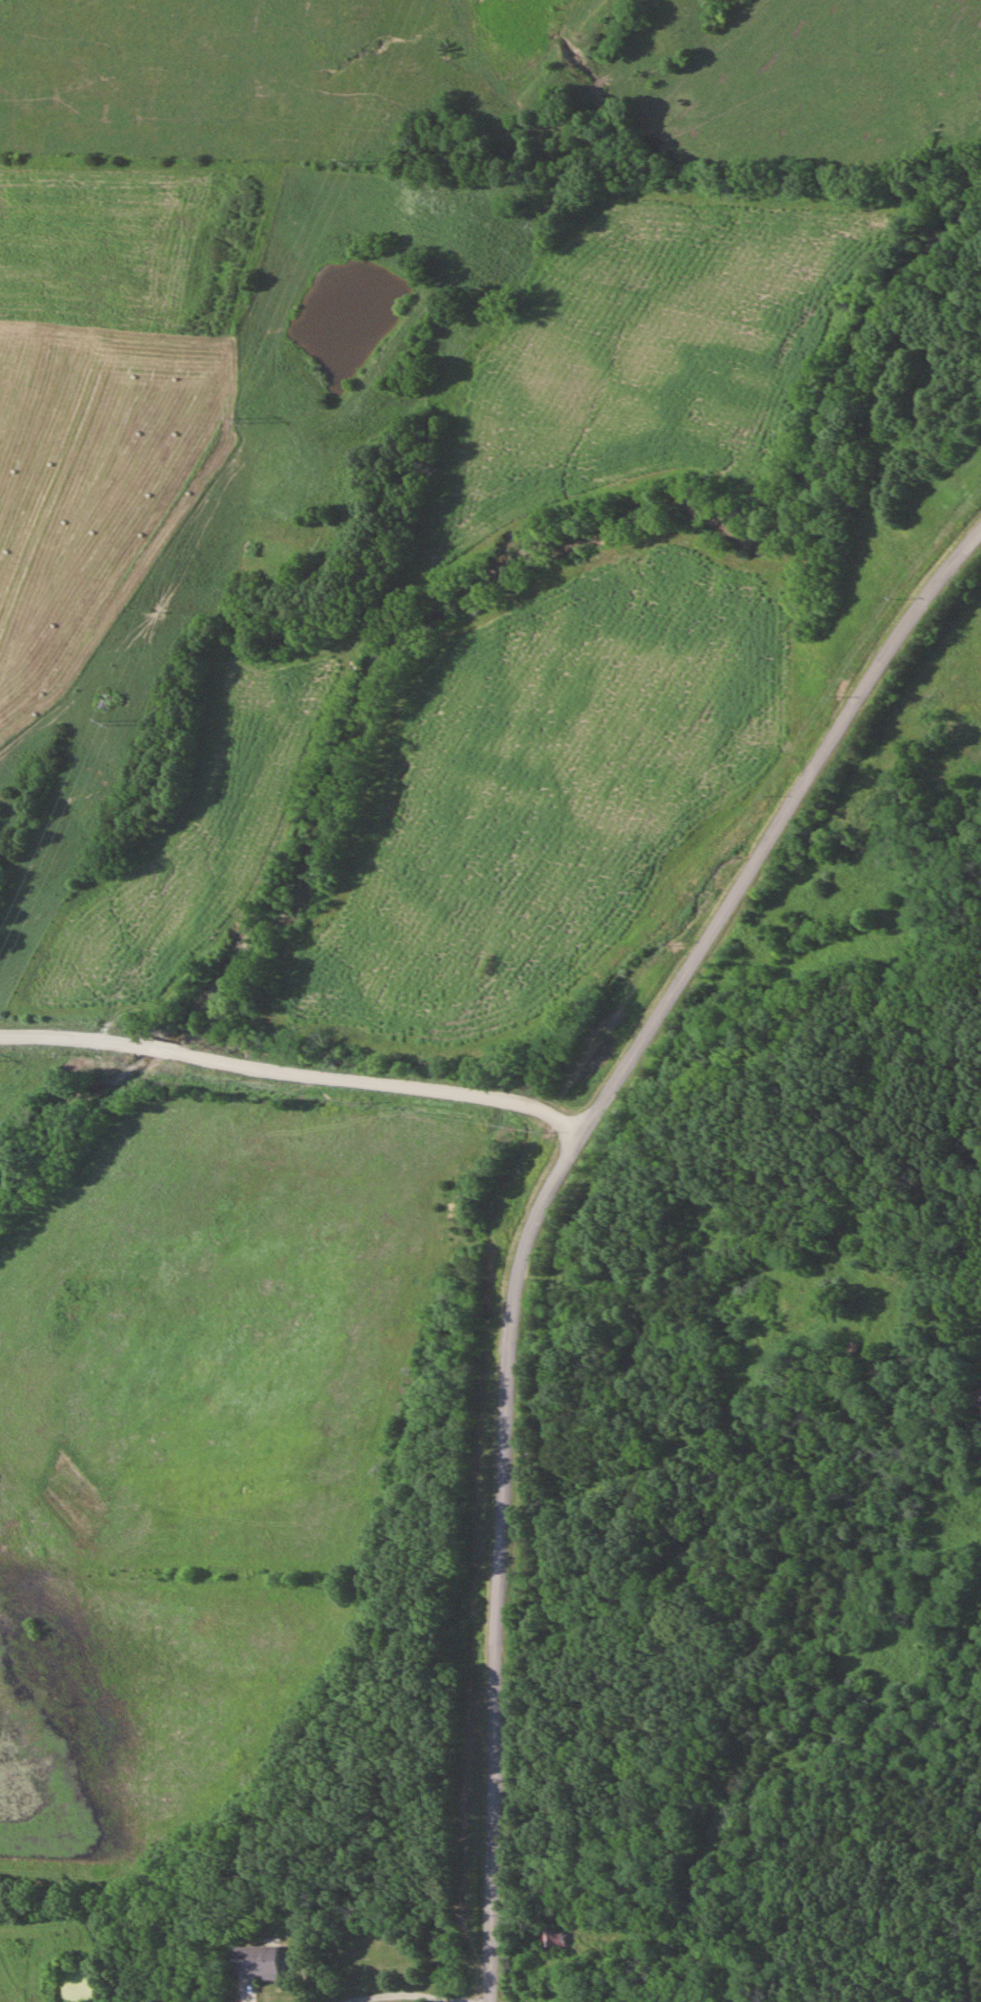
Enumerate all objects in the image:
power tower: (351, 168)
road: (158, 250)
power tower: (244, 420)
power tower: (113, 723)
road: (298, 1071)
road: (553, 1205)
building: (554, 1938)
building: (291, 1956)
building: (255, 1963)
road: (424, 1995)

